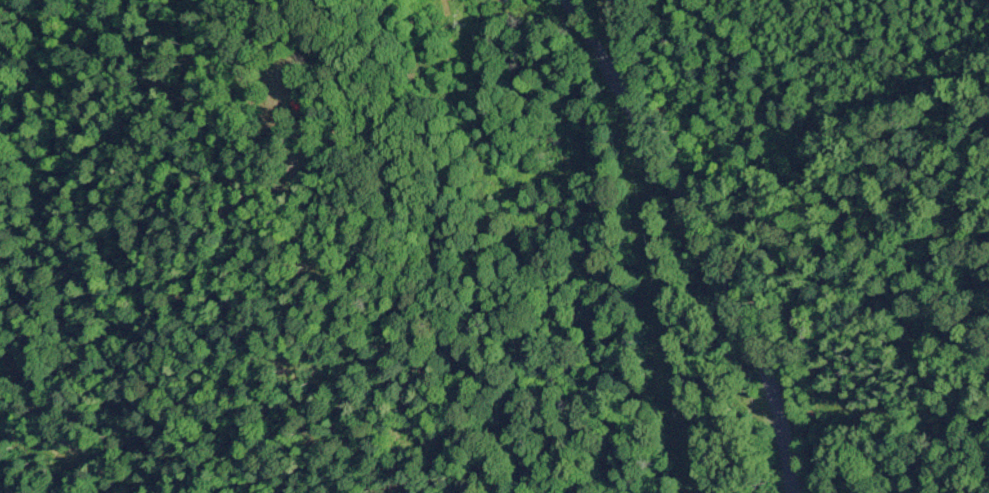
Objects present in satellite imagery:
road: (694, 239)

